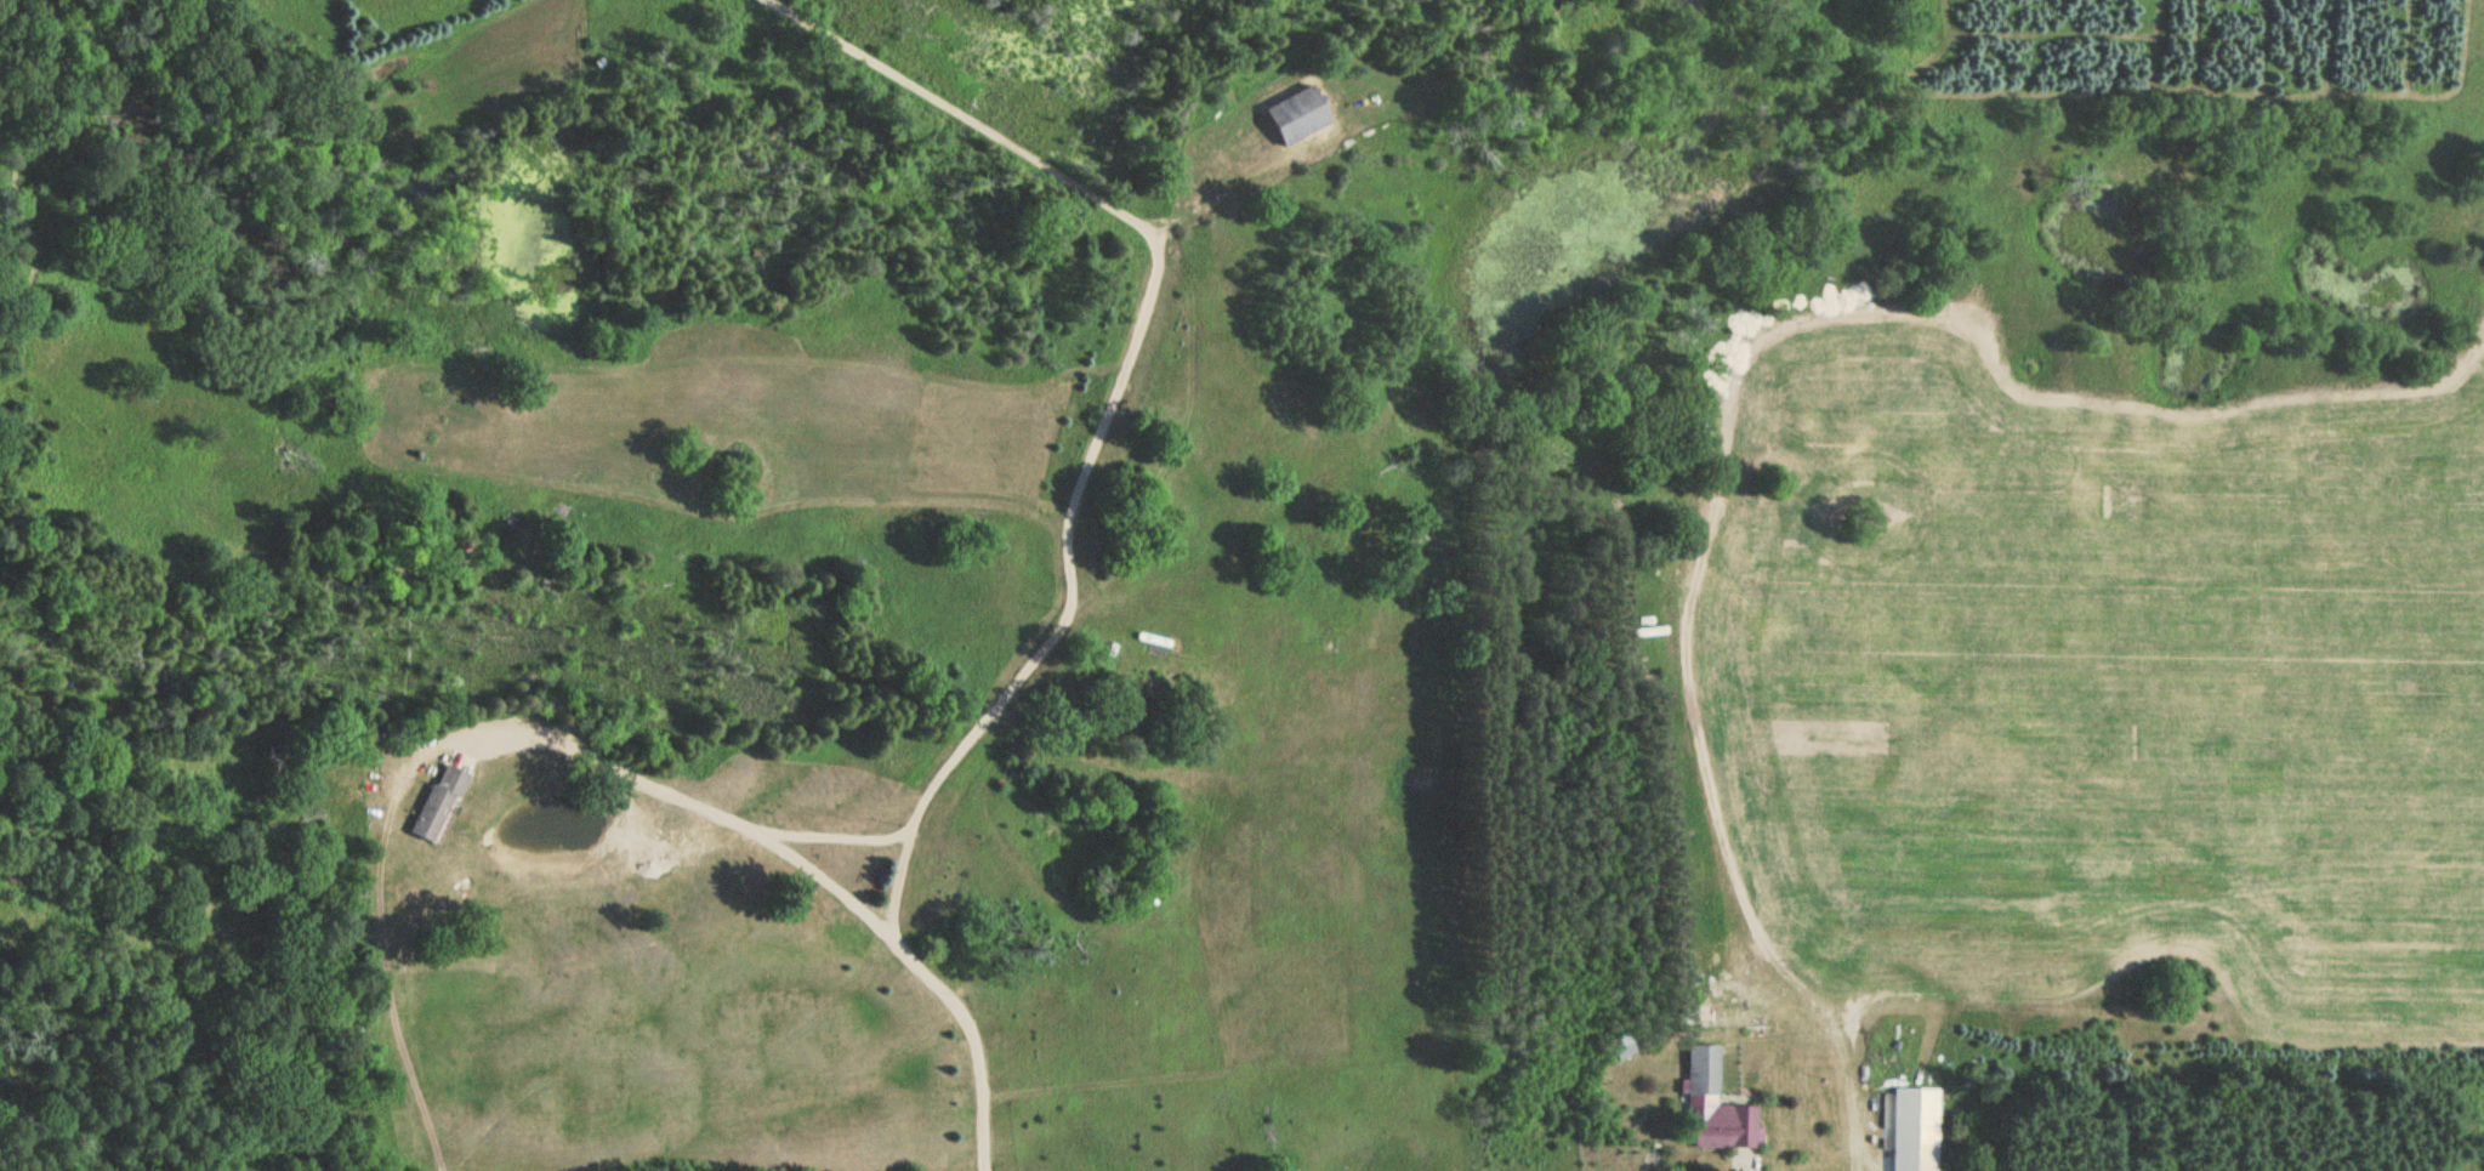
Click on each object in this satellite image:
road: (960, 113)
building: (1300, 115)
road: (1069, 607)
building: (436, 796)
road: (697, 803)
road: (824, 835)
road: (1986, 1001)
road: (974, 1044)
building: (1624, 1046)
building: (1712, 1104)
building: (1912, 1127)
road: (1709, 1143)
road: (1721, 1154)
road: (1738, 1158)

